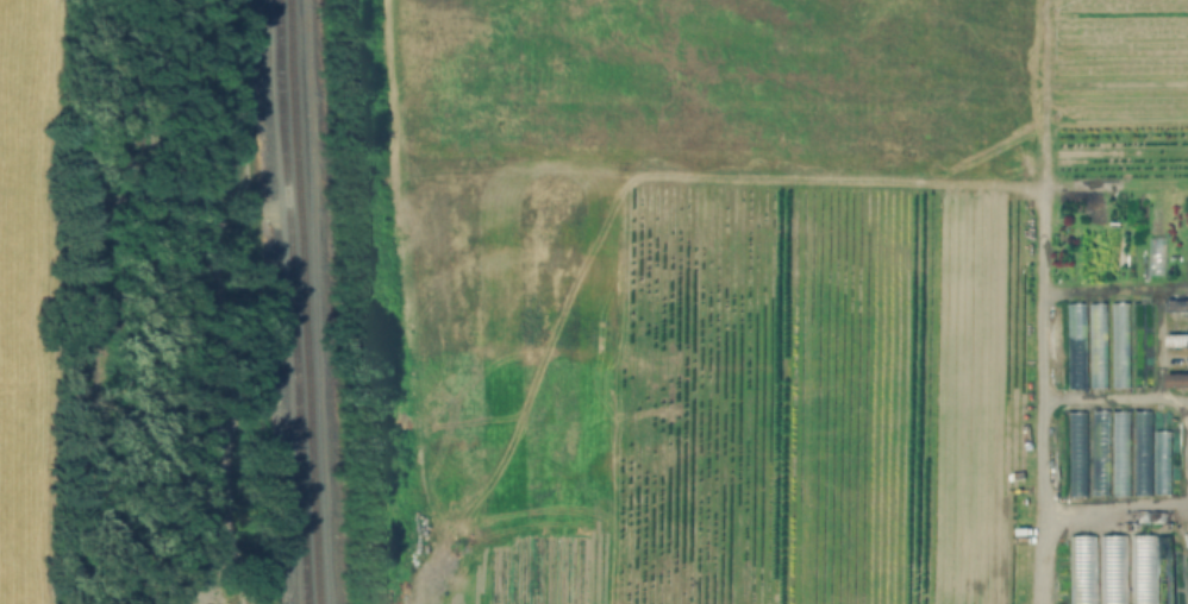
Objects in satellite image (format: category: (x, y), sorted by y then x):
crop: (782, 300)
railway: (286, 302)
railway: (300, 302)
building: (1177, 306)
crop: (24, 309)
building: (1177, 340)
building: (1075, 345)
building: (1096, 345)
building: (1119, 345)
building: (1140, 345)
building: (1176, 382)
building: (1099, 453)
building: (1131, 453)
building: (1076, 454)
road: (1034, 482)
building: (1186, 540)
building: (1081, 570)
building: (1112, 570)
building: (1143, 570)

